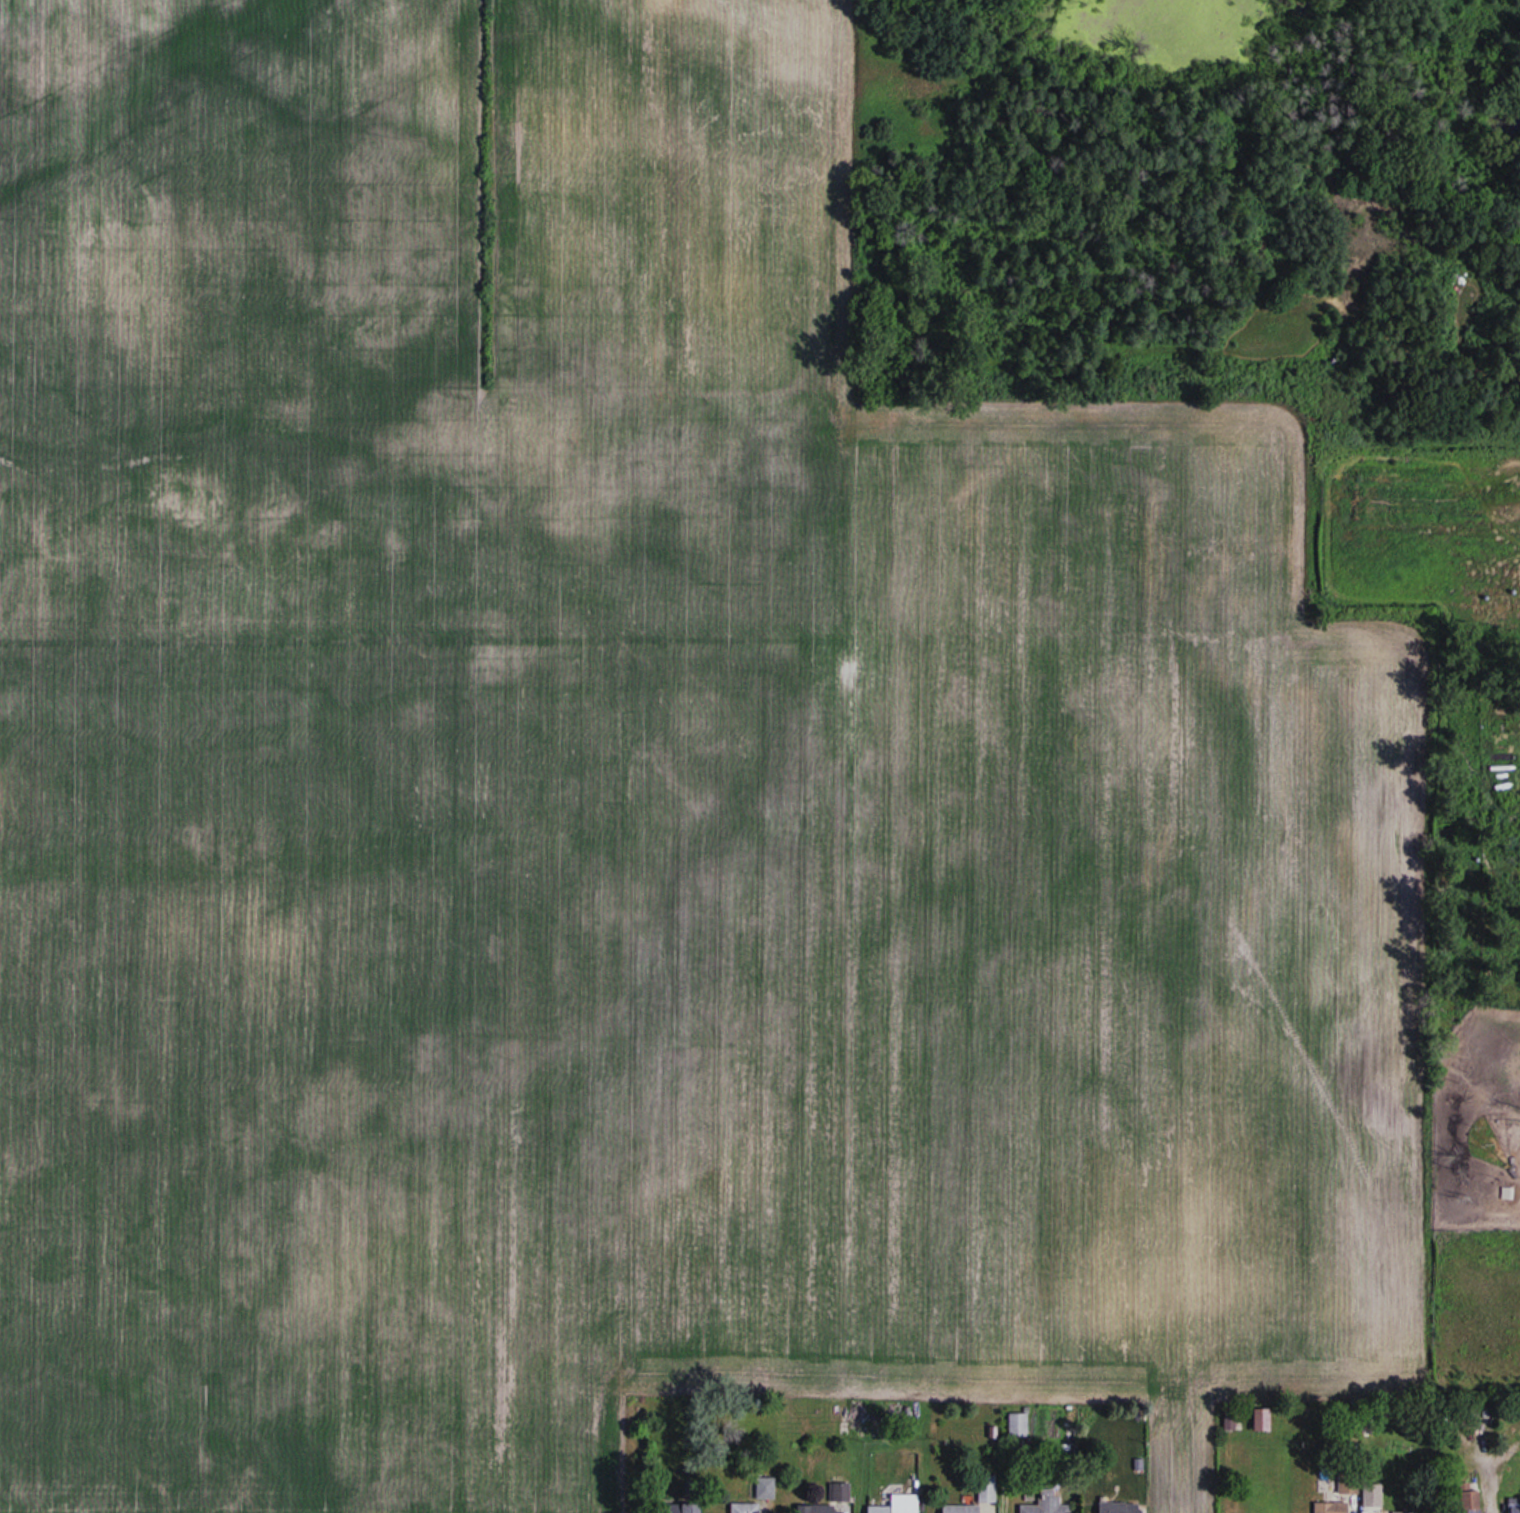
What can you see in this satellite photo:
building: (1017, 1424)
building: (1348, 1484)
building: (765, 1486)
building: (986, 1488)
building: (833, 1500)
building: (1472, 1500)
building: (898, 1504)
building: (1046, 1505)
building: (1323, 1506)
building: (745, 1507)
building: (1119, 1507)
building: (693, 1508)
building: (961, 1508)
building: (1404, 1511)

